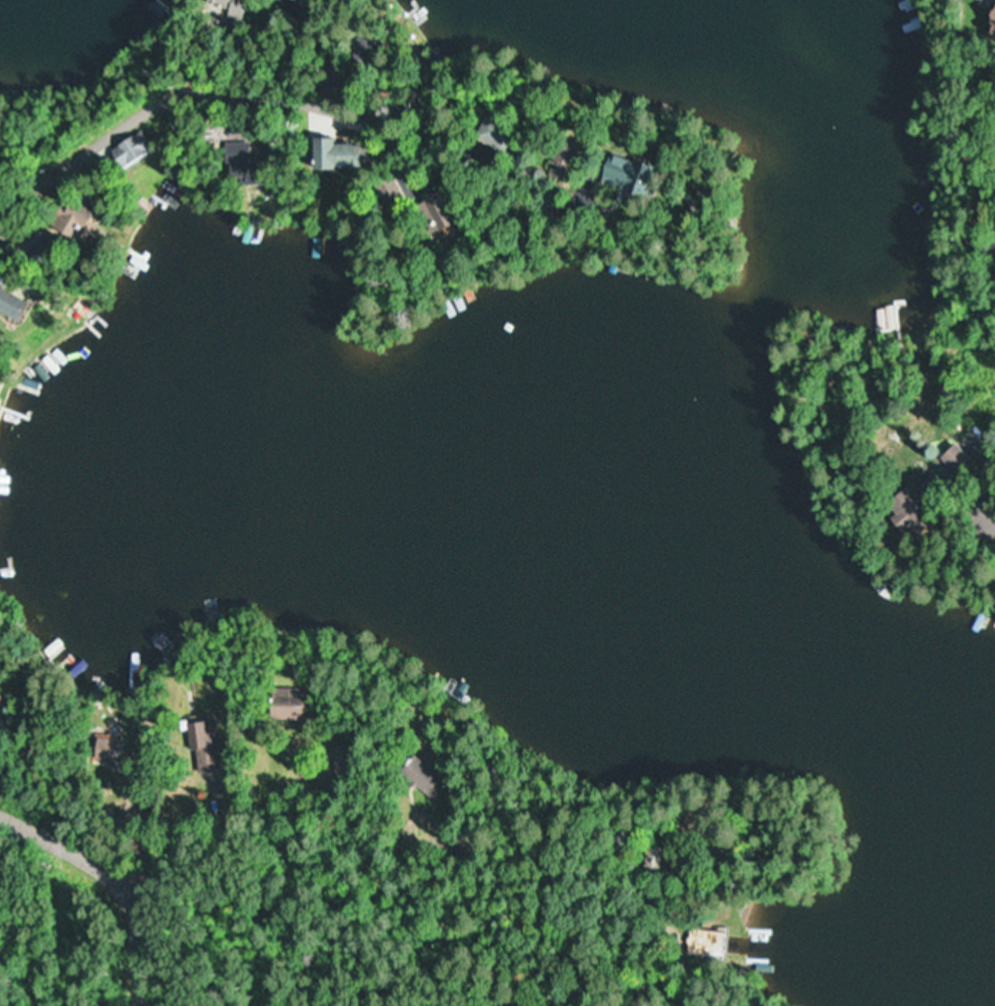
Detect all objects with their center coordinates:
building: (222, 5)
building: (360, 50)
road: (179, 86)
building: (127, 151)
building: (327, 156)
building: (234, 160)
building: (549, 166)
building: (608, 177)
building: (425, 213)
building: (70, 221)
building: (10, 307)
building: (955, 460)
road: (969, 503)
building: (904, 512)
building: (290, 703)
building: (1, 706)
building: (208, 745)
building: (107, 749)
building: (424, 777)
road: (368, 825)
road: (113, 878)
building: (704, 942)
road: (674, 987)

